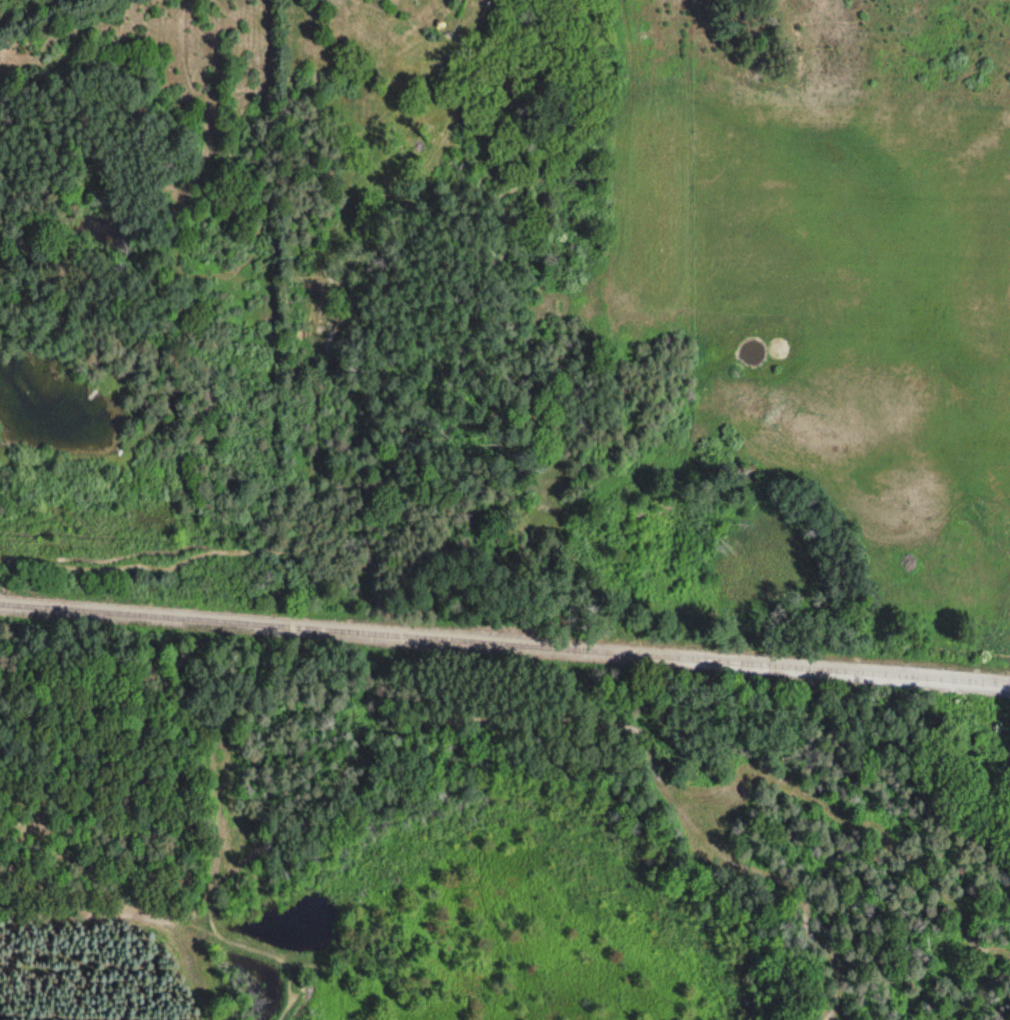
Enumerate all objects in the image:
railway: (505, 639)

